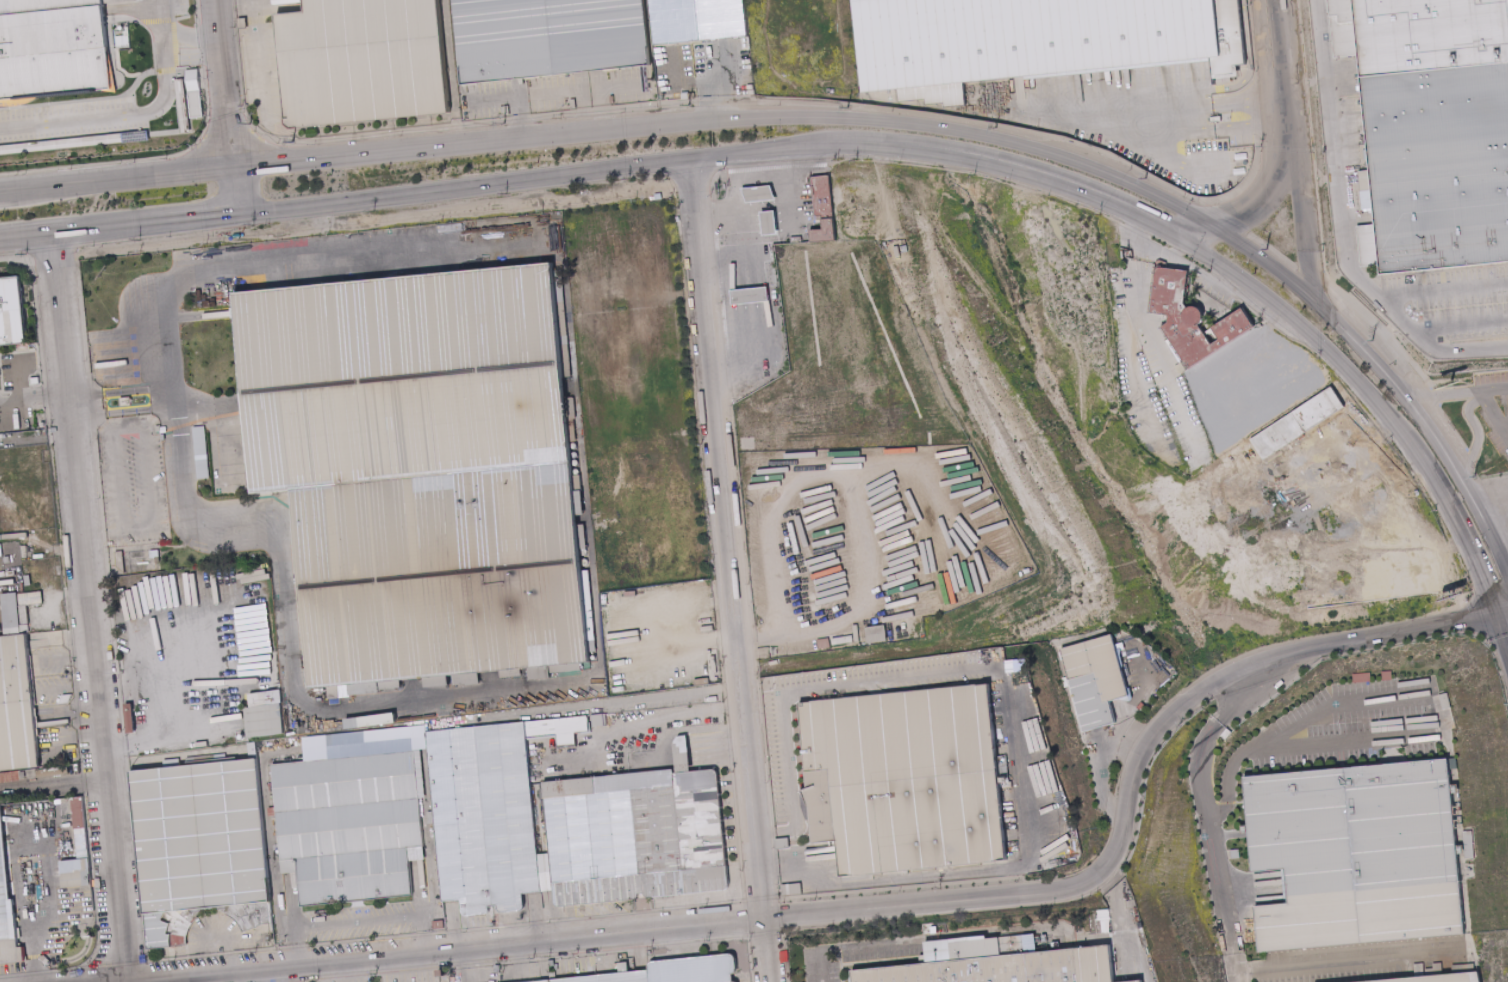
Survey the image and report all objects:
road: (1286, 42)
road: (1264, 45)
power tower: (688, 104)
power tower: (845, 105)
road: (229, 106)
parking lot: (68, 119)
power tower: (249, 122)
power tower: (504, 122)
power tower: (995, 127)
power tower: (292, 140)
power tower: (1146, 178)
gas station: (759, 191)
gas station: (770, 221)
power tower: (1266, 248)
gas station: (762, 257)
power tower: (1371, 340)
power tower: (1474, 476)
parking lot: (618, 701)

